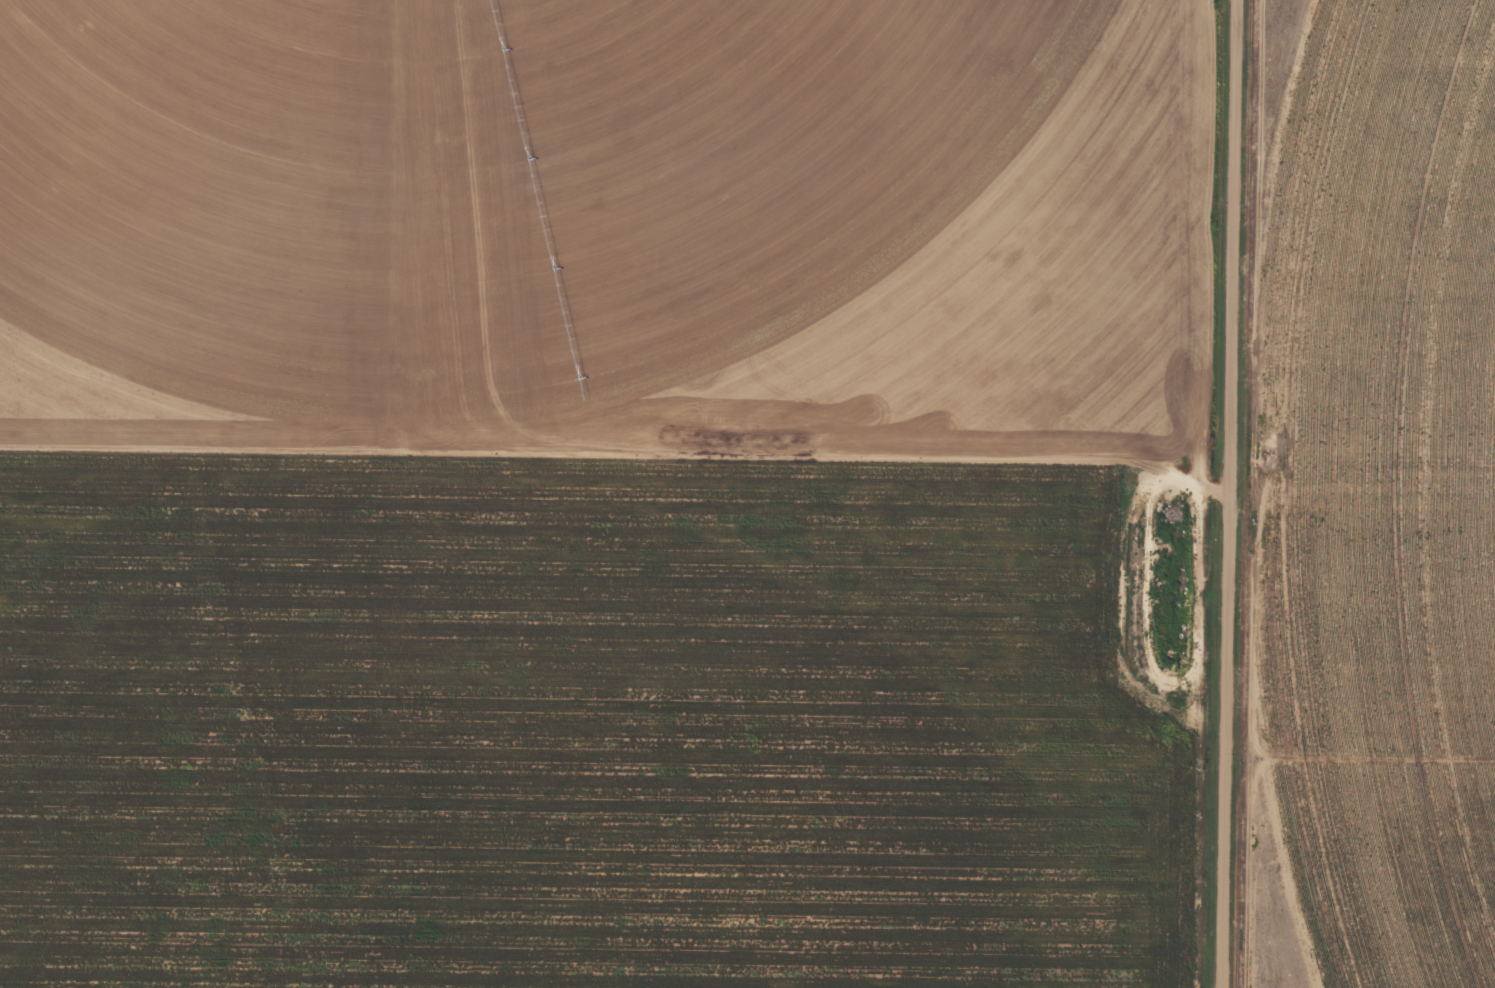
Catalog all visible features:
road: (1228, 494)
crop: (1379, 502)

